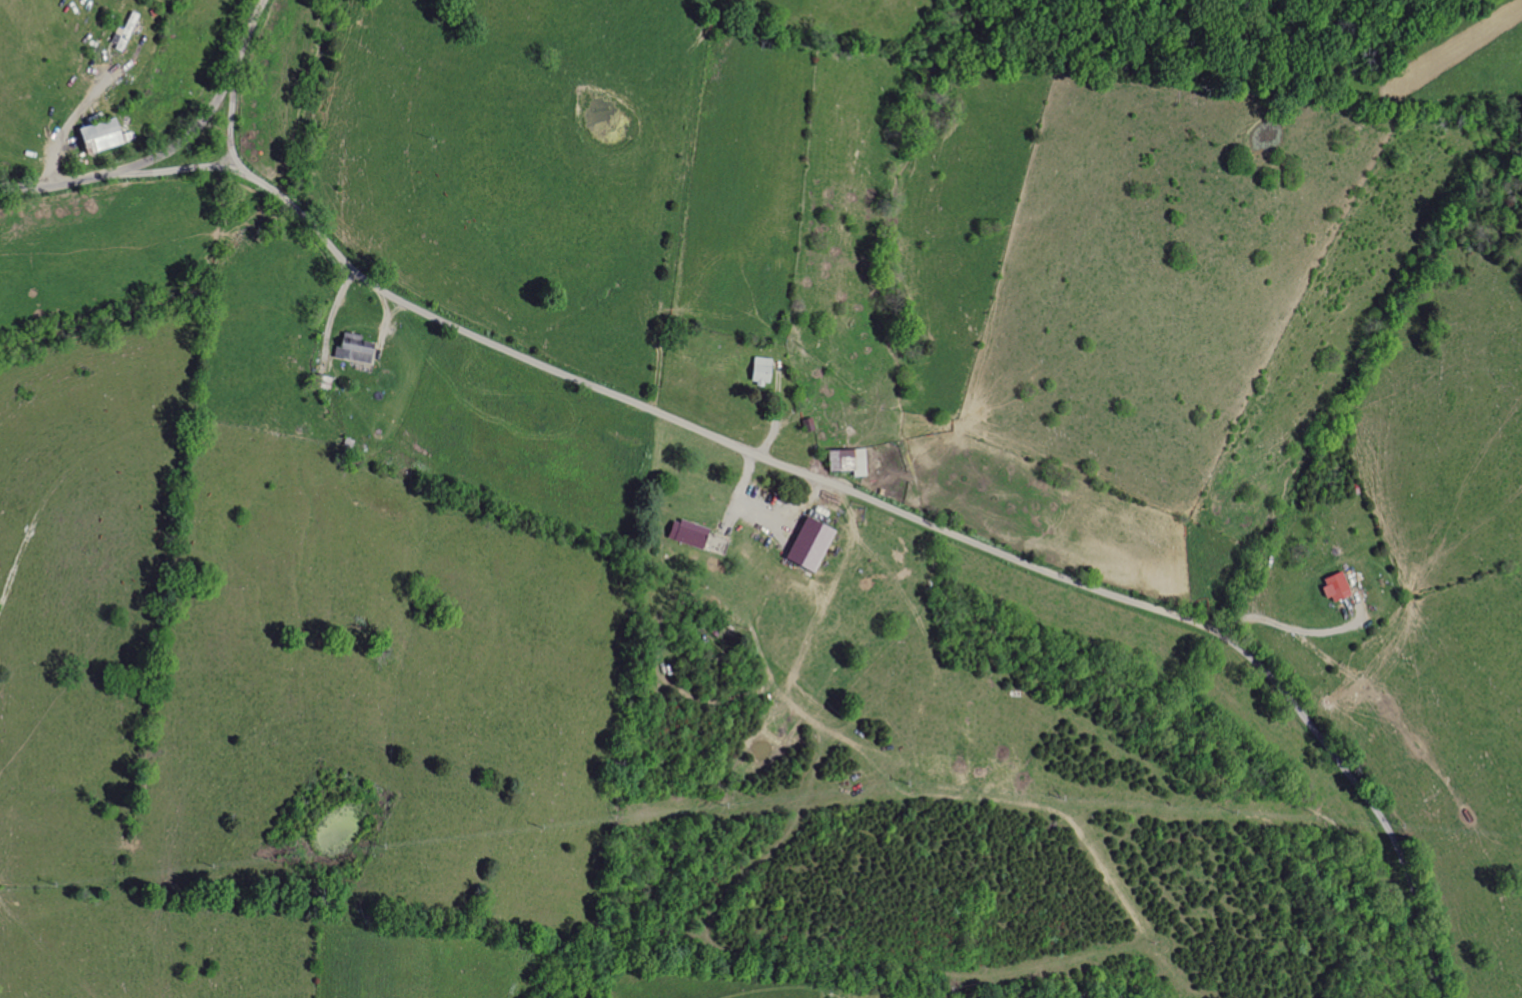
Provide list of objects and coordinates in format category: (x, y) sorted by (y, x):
building: (123, 32)
road: (231, 128)
road: (63, 129)
building: (94, 136)
road: (171, 149)
building: (351, 348)
building: (757, 370)
building: (844, 461)
road: (856, 491)
building: (684, 533)
building: (805, 545)
building: (1333, 587)
road: (1290, 632)

